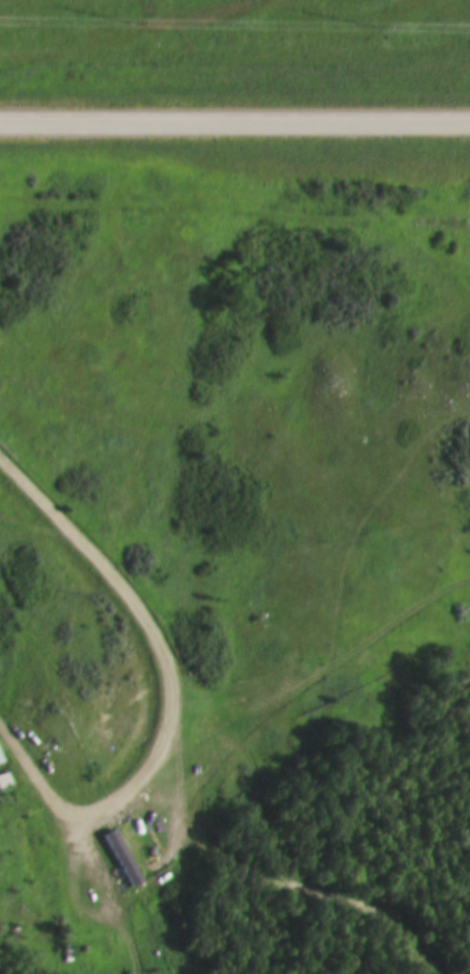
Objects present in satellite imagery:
road: (235, 119)
road: (164, 689)
building: (0, 757)
building: (4, 780)
road: (280, 849)
building: (119, 856)

